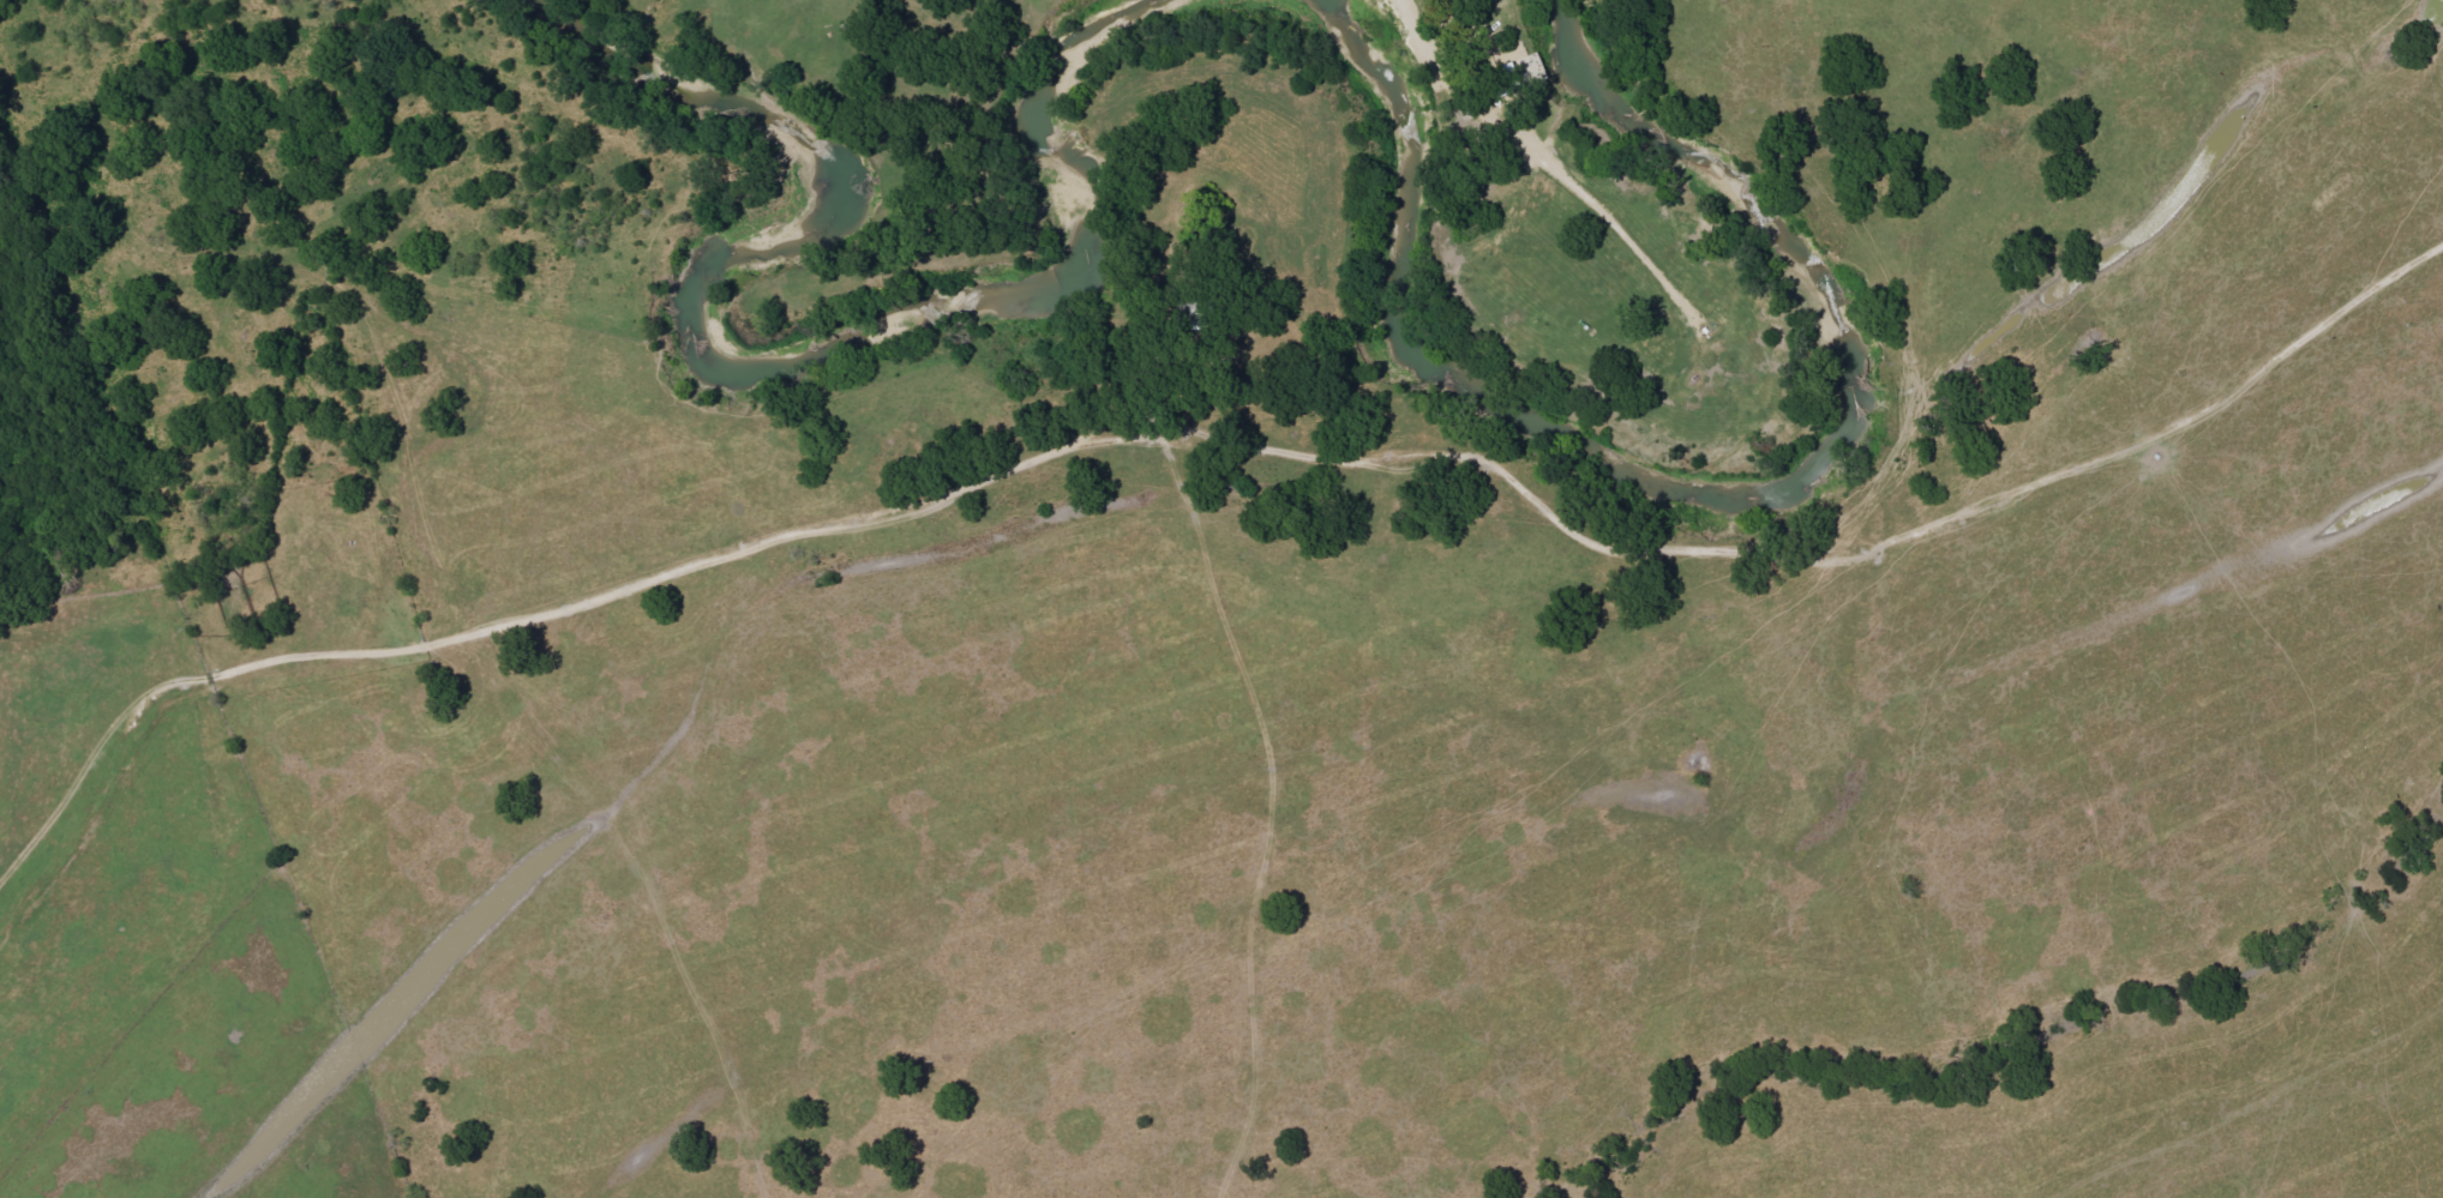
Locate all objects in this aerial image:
road: (1416, 40)
river: (803, 351)
river: (1704, 487)

